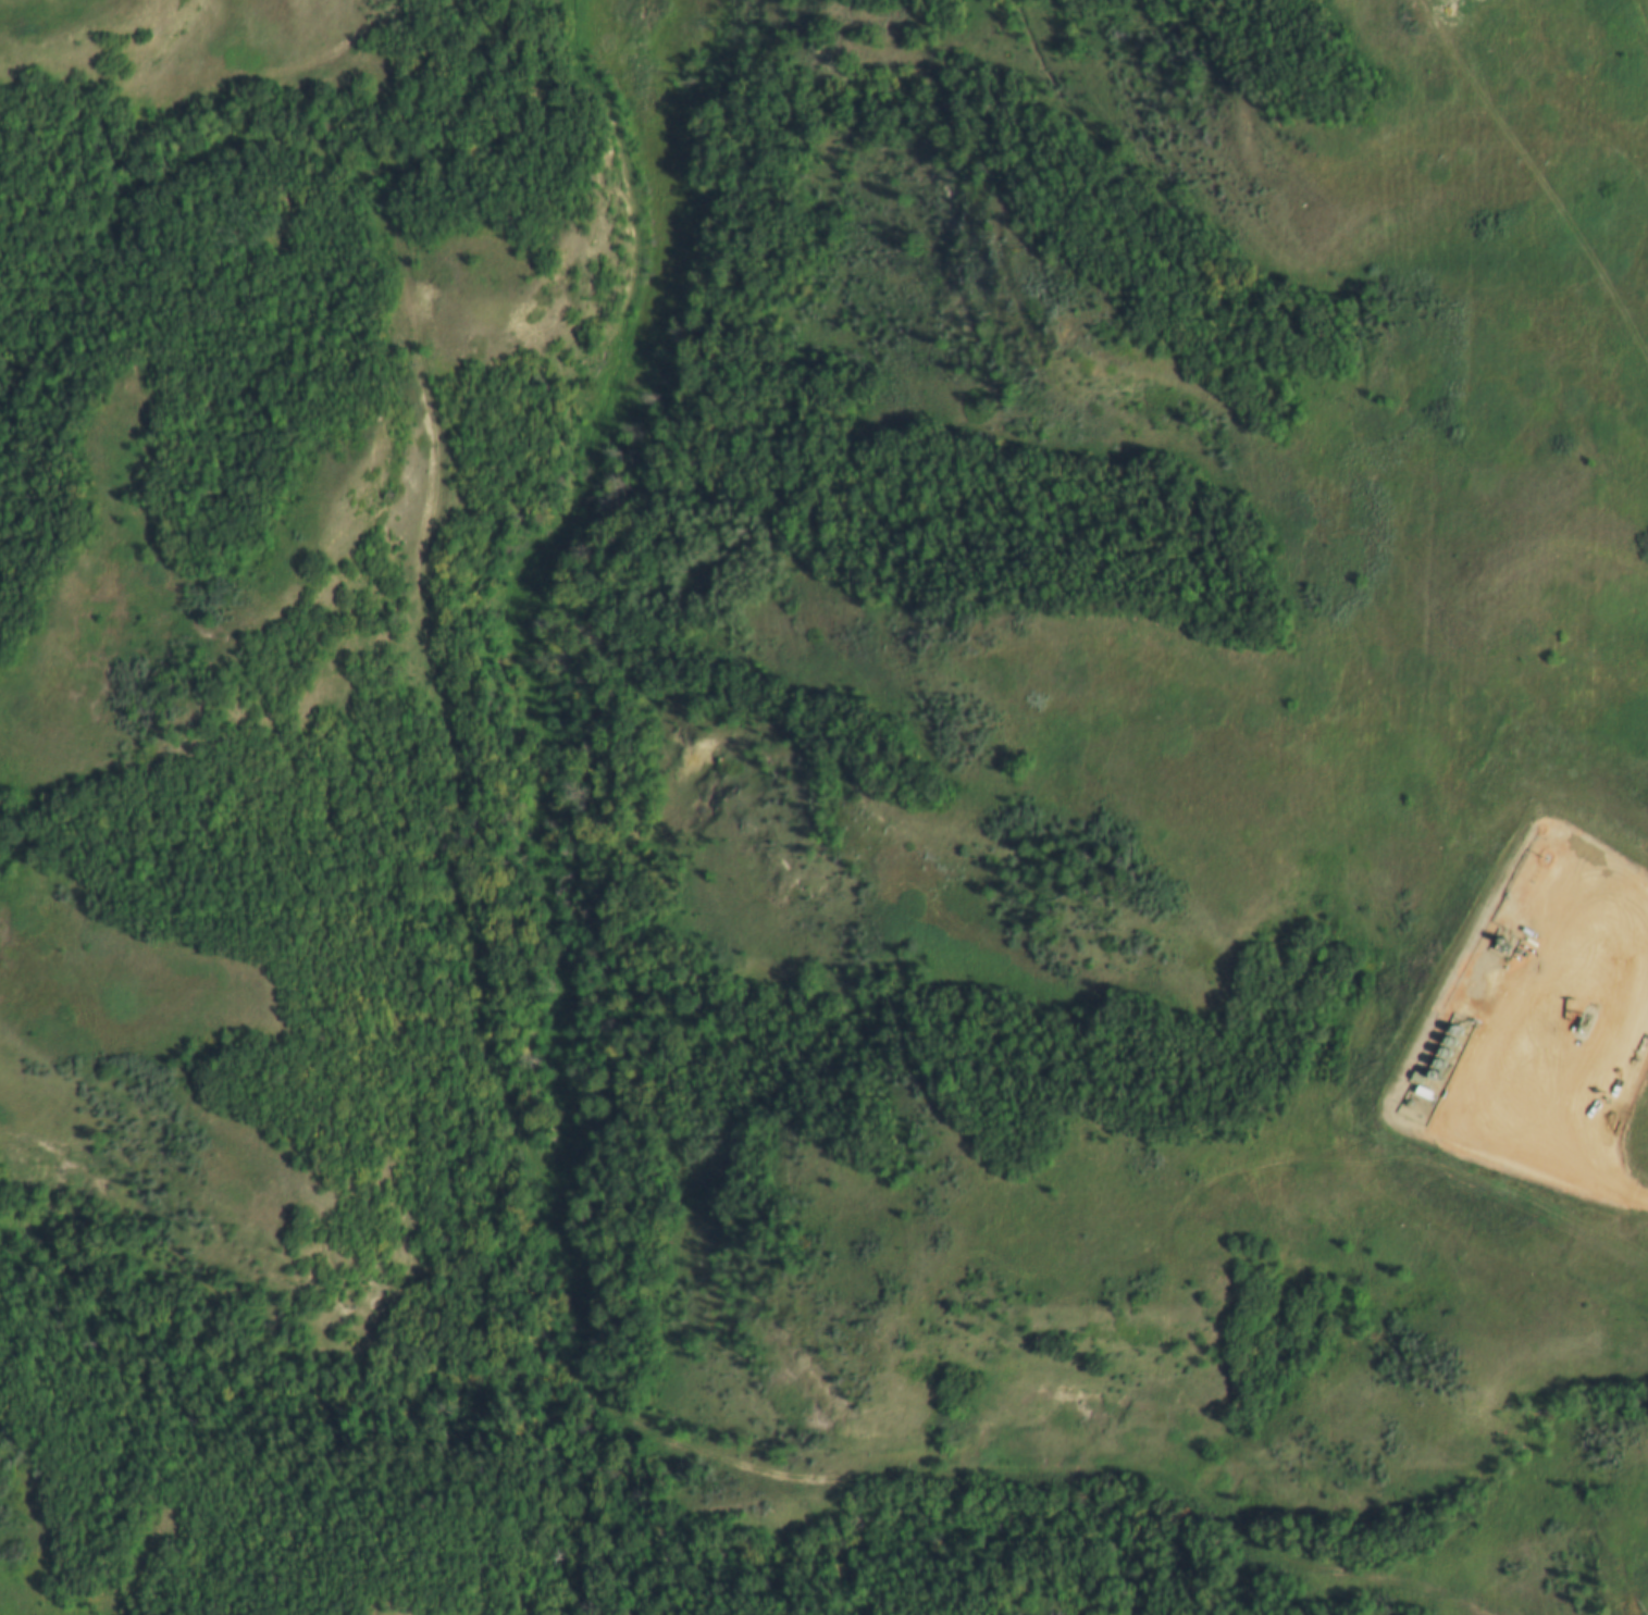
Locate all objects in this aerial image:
road: (1540, 176)
petroleum well: (1584, 1009)
building: (1451, 1034)
storage tank: (1451, 1034)
building: (1445, 1046)
storage tank: (1445, 1046)
building: (1440, 1057)
storage tank: (1440, 1057)
building: (1434, 1069)
storage tank: (1434, 1069)
building: (1428, 1081)
storage tank: (1428, 1081)
road: (1547, 1098)
road: (1064, 1479)

